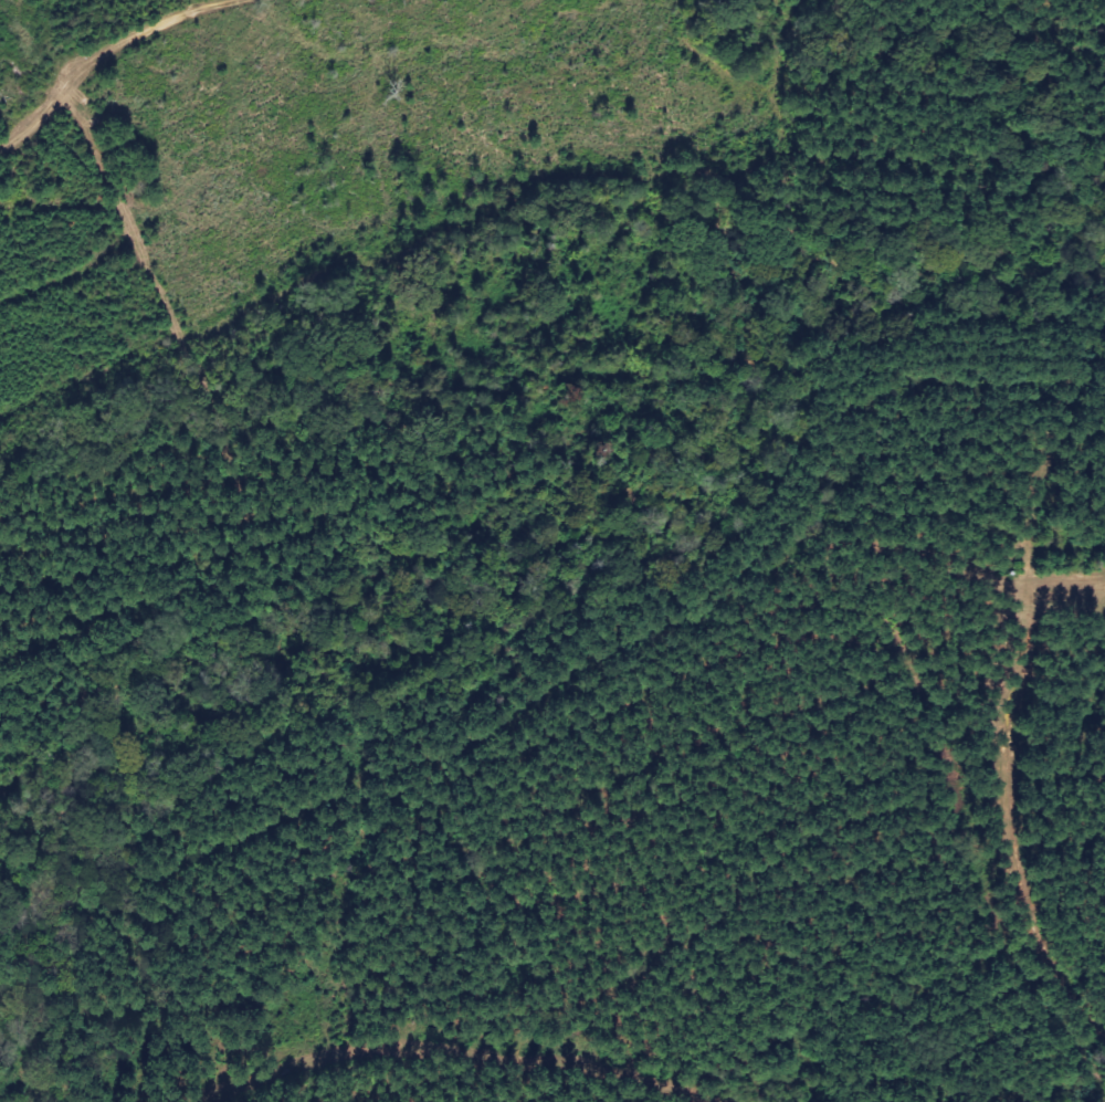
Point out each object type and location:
road: (717, 791)

